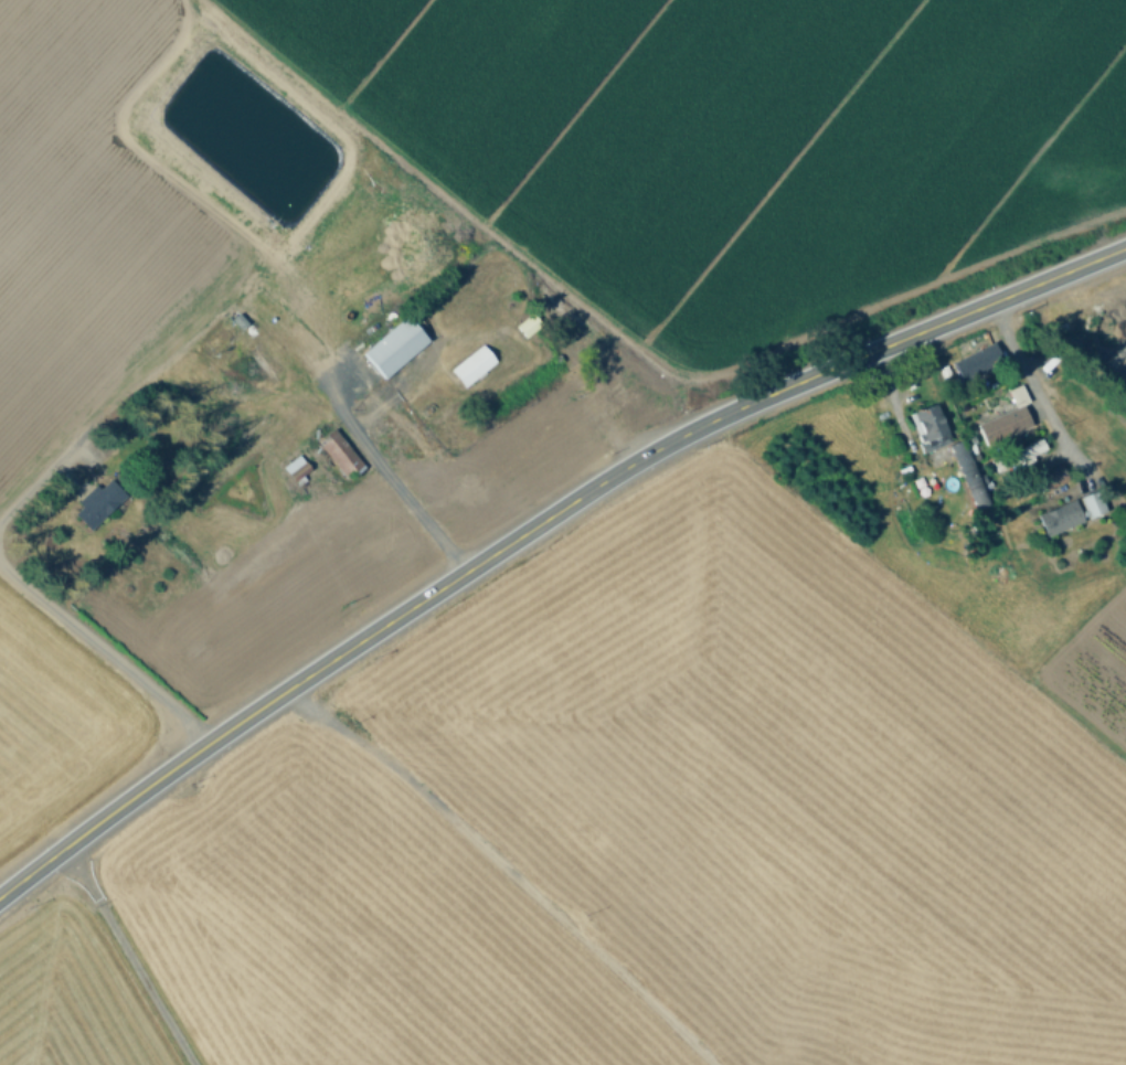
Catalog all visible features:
crop: (442, 285)
building: (396, 347)
building: (975, 364)
building: (474, 365)
road: (1031, 380)
building: (614, 384)
building: (1005, 420)
building: (926, 427)
building: (340, 454)
building: (962, 459)
building: (297, 468)
road: (399, 486)
road: (20, 490)
building: (98, 503)
crop: (999, 507)
building: (1069, 513)
road: (535, 524)
road: (106, 647)
crop: (629, 841)
road: (130, 955)

